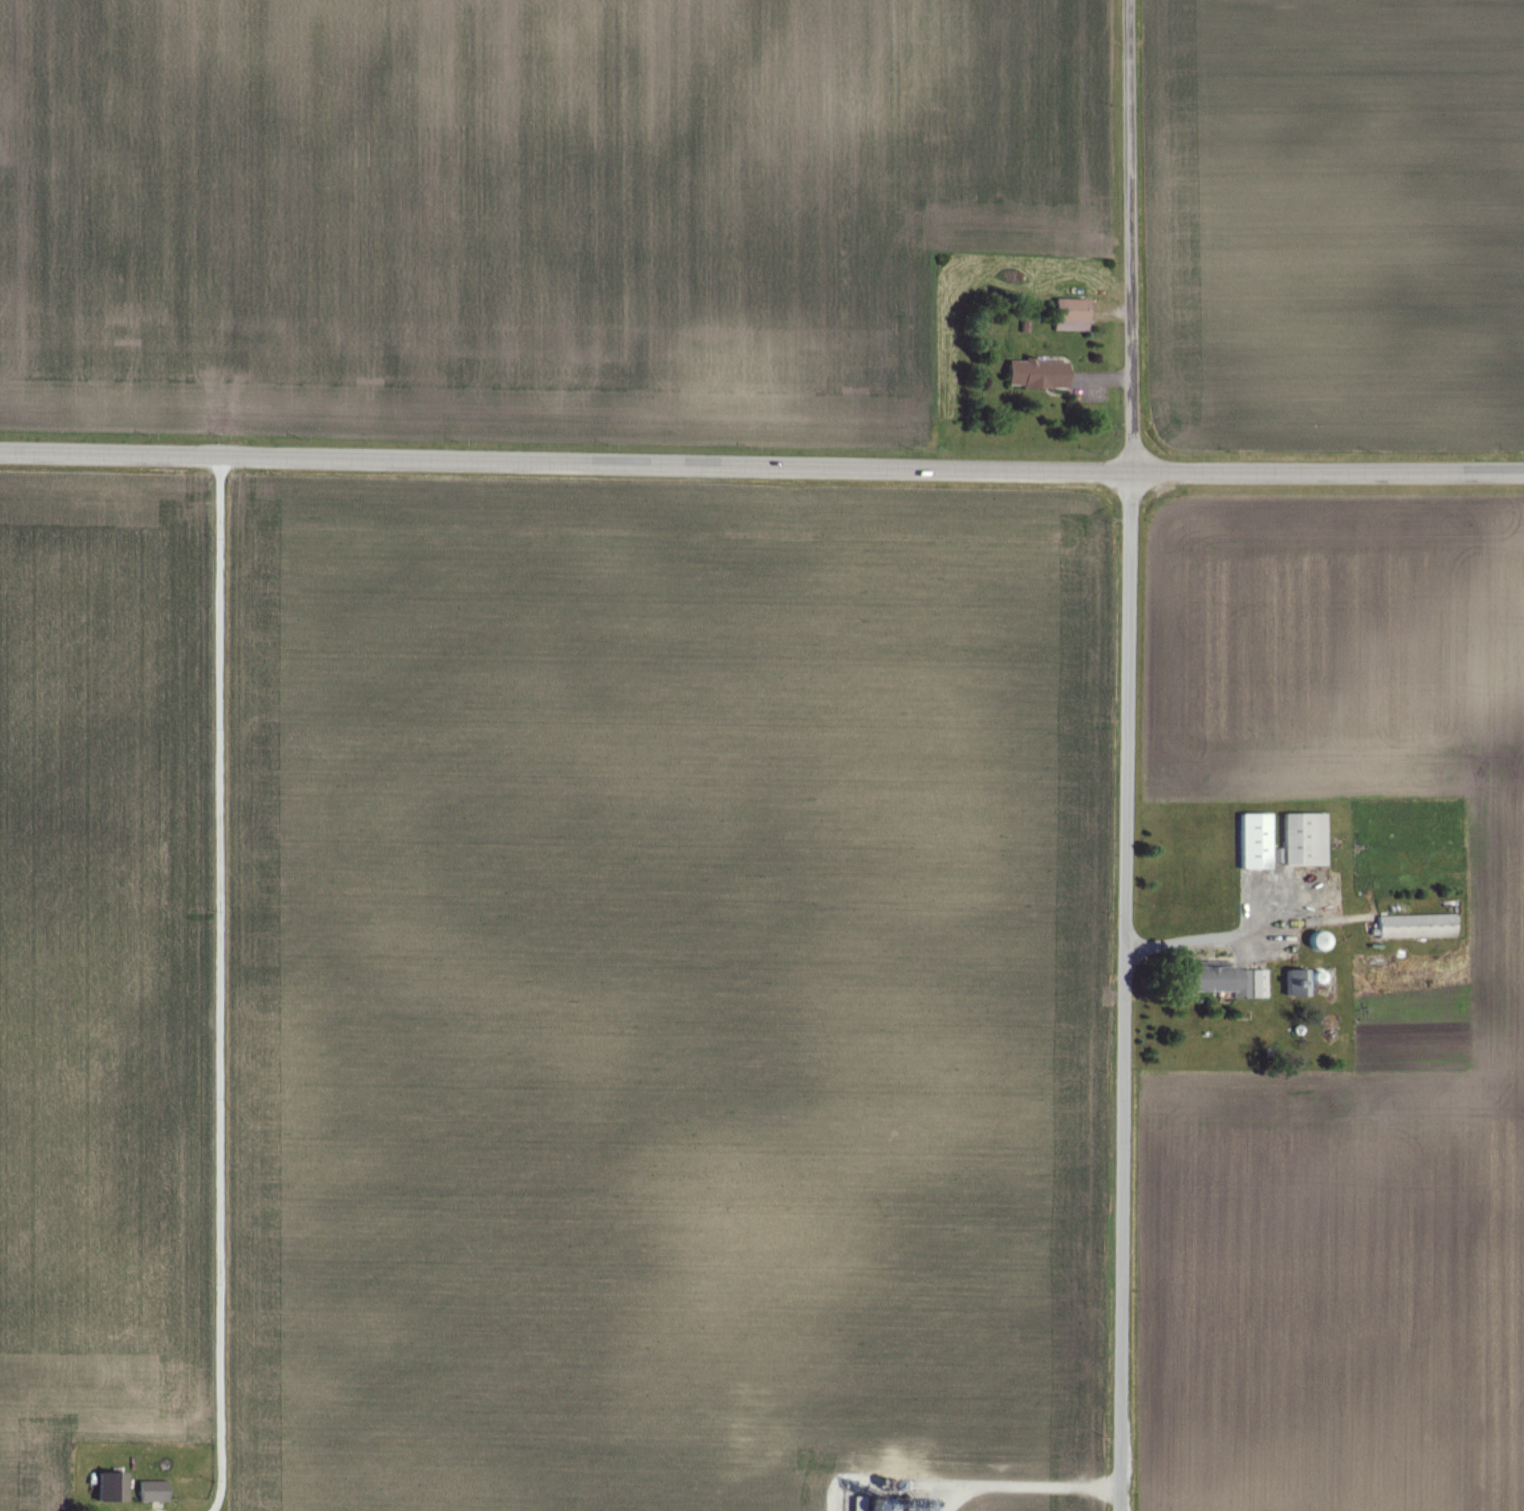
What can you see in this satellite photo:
building: (1069, 315)
building: (1034, 375)
road: (761, 459)
road: (1126, 755)
building: (1298, 837)
building: (1254, 841)
building: (1414, 926)
road: (1212, 939)
building: (1222, 979)
road: (220, 981)
building: (1298, 983)
building: (152, 1491)

